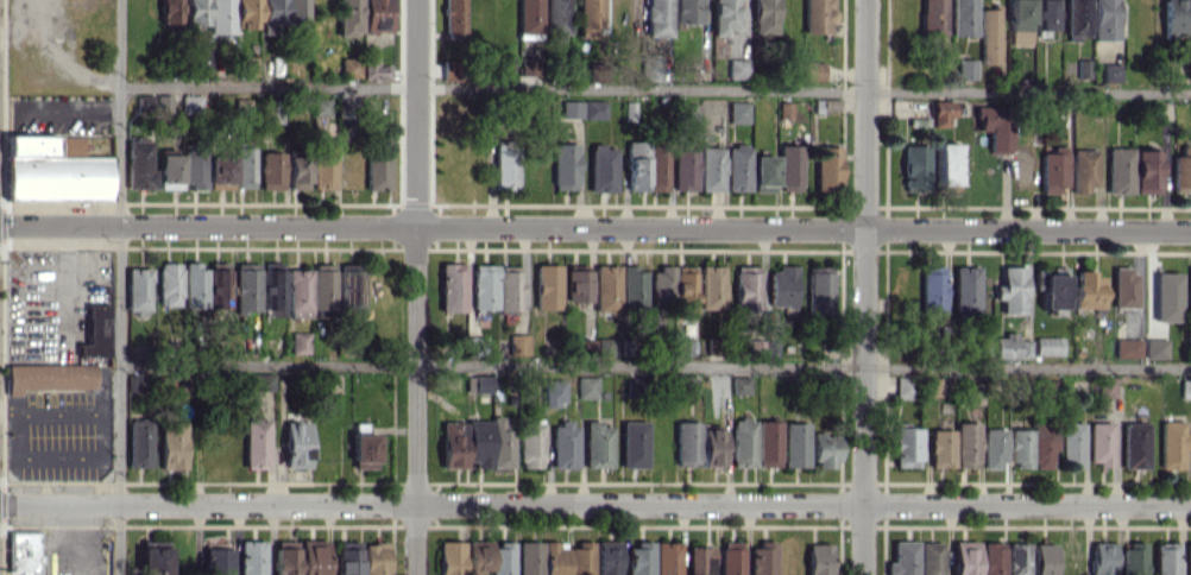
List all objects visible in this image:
building: (169, 11)
building: (686, 11)
building: (196, 12)
building: (246, 13)
building: (272, 14)
building: (1045, 14)
building: (221, 15)
building: (377, 15)
building: (556, 15)
building: (724, 15)
building: (818, 15)
building: (297, 17)
building: (529, 17)
building: (764, 17)
building: (932, 17)
building: (1077, 17)
building: (348, 18)
building: (588, 18)
building: (658, 18)
building: (963, 18)
building: (1174, 18)
building: (454, 19)
building: (1104, 19)
building: (1019, 23)
building: (989, 34)
road: (62, 56)
building: (201, 58)
building: (247, 64)
building: (530, 65)
building: (349, 67)
building: (651, 67)
building: (738, 68)
building: (966, 68)
building: (1083, 68)
building: (376, 70)
building: (813, 71)
building: (1110, 71)
building: (585, 86)
road: (655, 89)
building: (163, 102)
building: (191, 103)
building: (826, 105)
building: (321, 107)
building: (582, 109)
building: (630, 110)
building: (784, 110)
building: (738, 112)
building: (940, 113)
building: (994, 126)
building: (323, 164)
building: (377, 164)
building: (945, 164)
building: (138, 165)
building: (505, 165)
building: (636, 165)
building: (244, 166)
building: (565, 166)
building: (194, 168)
building: (601, 168)
building: (737, 168)
building: (789, 168)
building: (827, 168)
building: (915, 168)
building: (53, 169)
building: (657, 169)
building: (685, 169)
building: (711, 169)
building: (1052, 169)
building: (271, 170)
building: (1083, 170)
building: (1118, 170)
building: (1181, 170)
building: (169, 171)
building: (220, 171)
building: (297, 171)
building: (1146, 171)
building: (763, 173)
road: (594, 227)
building: (169, 284)
building: (195, 285)
building: (576, 285)
building: (246, 286)
building: (323, 286)
road: (415, 286)
building: (452, 286)
building: (484, 286)
building: (547, 286)
building: (660, 286)
building: (711, 286)
building: (782, 286)
building: (1123, 286)
road: (120, 287)
building: (606, 287)
building: (632, 287)
road: (863, 287)
building: (138, 289)
building: (218, 289)
building: (351, 289)
building: (683, 289)
building: (746, 289)
building: (932, 289)
building: (965, 289)
building: (1050, 289)
building: (1189, 289)
building: (819, 290)
building: (1010, 290)
building: (1088, 290)
building: (272, 291)
building: (508, 291)
building: (298, 292)
building: (1166, 296)
building: (95, 331)
building: (1189, 337)
building: (298, 342)
building: (518, 343)
building: (478, 345)
building: (682, 346)
building: (1004, 346)
building: (1047, 346)
building: (1154, 347)
building: (762, 348)
building: (1023, 348)
building: (1127, 348)
road: (655, 367)
building: (49, 377)
building: (258, 381)
building: (478, 384)
building: (689, 384)
building: (741, 385)
building: (587, 387)
building: (903, 387)
building: (932, 387)
building: (1105, 387)
building: (1185, 387)
building: (175, 391)
building: (553, 392)
building: (686, 442)
building: (743, 442)
building: (138, 443)
building: (256, 443)
building: (489, 443)
building: (768, 443)
building: (1099, 443)
building: (172, 444)
building: (296, 444)
building: (452, 444)
building: (530, 444)
building: (563, 444)
building: (597, 444)
building: (634, 444)
building: (795, 444)
building: (966, 444)
building: (1071, 444)
building: (1134, 444)
building: (1171, 444)
building: (712, 447)
building: (905, 447)
building: (940, 448)
building: (992, 448)
building: (1020, 448)
building: (1041, 448)
building: (364, 450)
building: (824, 450)
road: (594, 505)
building: (251, 557)
building: (284, 557)
building: (313, 557)
building: (347, 557)
building: (450, 557)
building: (491, 557)
building: (529, 557)
building: (554, 557)
building: (607, 557)
building: (964, 557)
building: (1133, 557)
building: (1189, 557)
building: (153, 558)
building: (218, 558)
building: (376, 558)
building: (580, 558)
building: (639, 558)
building: (667, 558)
building: (731, 558)
building: (762, 558)
building: (818, 558)
building: (902, 558)
building: (930, 558)
building: (992, 558)
building: (1016, 558)
building: (1042, 558)
building: (1070, 558)
building: (1102, 558)
building: (1165, 558)
building: (699, 560)

